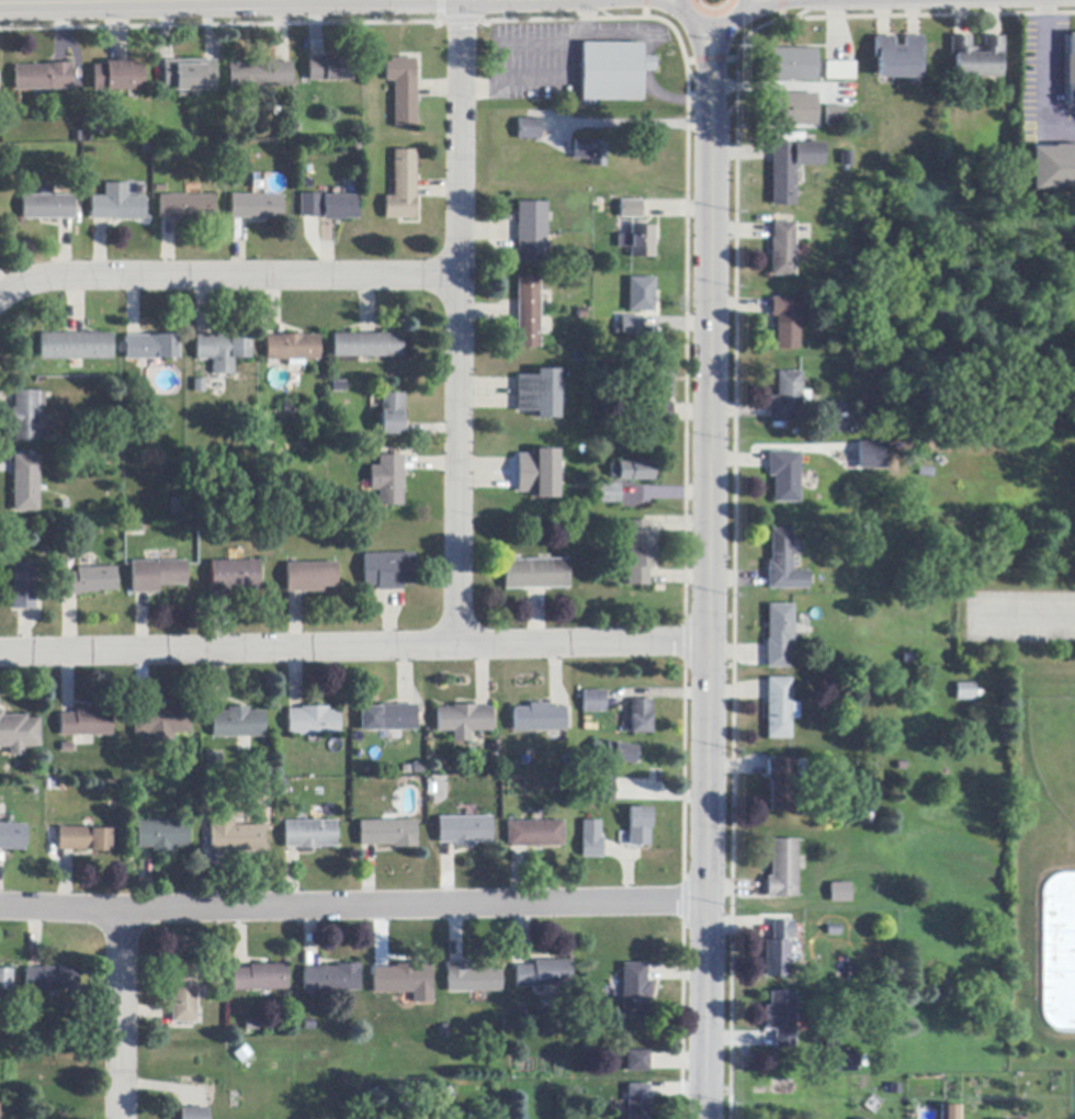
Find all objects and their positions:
road: (246, 0)
road: (159, 2)
road: (711, 27)
building: (976, 57)
building: (898, 58)
building: (794, 65)
building: (329, 69)
building: (1071, 70)
building: (613, 71)
building: (840, 71)
road: (1039, 75)
building: (260, 76)
road: (552, 76)
building: (43, 77)
building: (118, 77)
building: (189, 77)
building: (404, 91)
road: (672, 100)
building: (793, 110)
building: (836, 115)
road: (634, 122)
building: (529, 129)
building: (591, 152)
building: (791, 168)
building: (1054, 169)
building: (403, 187)
building: (308, 203)
building: (116, 205)
building: (46, 207)
building: (185, 207)
building: (257, 207)
building: (340, 207)
building: (631, 210)
building: (532, 233)
building: (640, 242)
building: (783, 249)
road: (227, 276)
building: (641, 295)
building: (529, 313)
road: (460, 323)
building: (787, 323)
building: (632, 326)
building: (367, 346)
building: (75, 348)
building: (149, 348)
building: (292, 348)
building: (222, 351)
building: (199, 386)
building: (339, 387)
building: (539, 394)
building: (661, 395)
building: (788, 399)
building: (392, 415)
building: (24, 417)
building: (839, 425)
building: (870, 453)
building: (631, 471)
building: (539, 474)
building: (785, 476)
building: (388, 481)
building: (25, 484)
building: (609, 494)
building: (638, 553)
building: (783, 564)
building: (389, 570)
road: (708, 574)
building: (536, 575)
building: (156, 576)
building: (234, 577)
building: (310, 577)
building: (87, 581)
building: (23, 586)
road: (1025, 614)
parking lot: (1020, 617)
building: (779, 635)
road: (353, 646)
building: (910, 658)
building: (965, 692)
building: (593, 702)
building: (780, 709)
building: (641, 717)
building: (388, 719)
building: (465, 719)
building: (539, 719)
building: (313, 722)
building: (237, 723)
building: (84, 724)
building: (160, 724)
building: (18, 734)
building: (614, 753)
building: (213, 762)
park: (1033, 783)
building: (782, 784)
building: (598, 790)
building: (208, 793)
building: (638, 827)
building: (464, 830)
building: (388, 834)
building: (235, 835)
building: (310, 835)
building: (534, 835)
building: (161, 836)
building: (11, 837)
building: (84, 839)
building: (591, 840)
building: (783, 870)
building: (840, 893)
road: (353, 906)
building: (778, 949)
building: (543, 974)
building: (50, 979)
building: (260, 979)
building: (331, 979)
building: (4, 980)
building: (472, 980)
building: (404, 982)
building: (634, 992)
building: (183, 995)
building: (518, 1014)
road: (122, 1015)
building: (781, 1019)
building: (637, 1062)
building: (845, 1062)
building: (637, 1101)
building: (950, 1112)
building: (194, 1114)
building: (860, 1118)

